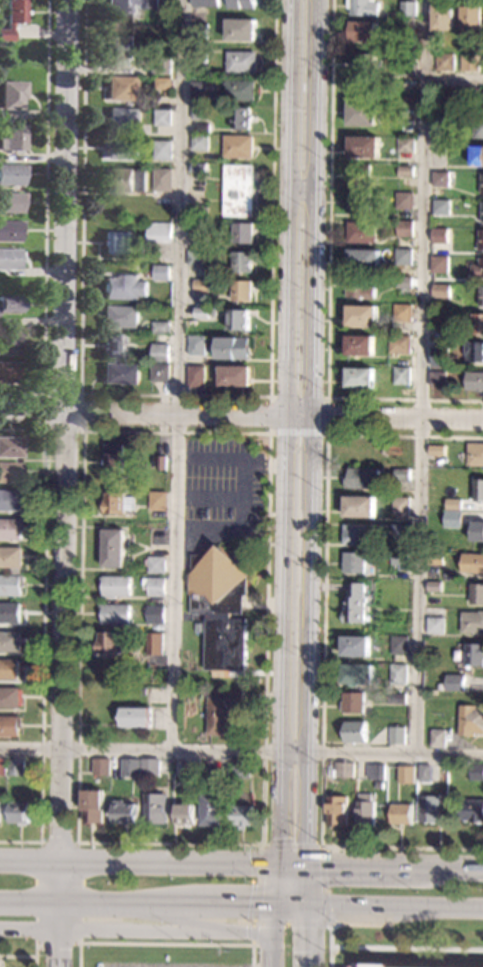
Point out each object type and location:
building: (203, 3)
building: (241, 4)
building: (128, 5)
building: (362, 7)
building: (408, 9)
building: (442, 17)
building: (471, 17)
building: (13, 18)
building: (239, 29)
building: (197, 31)
building: (363, 31)
building: (384, 46)
building: (118, 47)
building: (196, 58)
building: (239, 61)
building: (443, 62)
building: (468, 62)
building: (361, 64)
building: (159, 66)
building: (405, 67)
road: (455, 80)
building: (161, 84)
building: (122, 88)
building: (196, 88)
building: (238, 90)
building: (164, 93)
building: (13, 95)
building: (459, 97)
building: (482, 101)
building: (196, 112)
building: (361, 113)
building: (159, 117)
building: (240, 118)
building: (122, 120)
building: (440, 121)
building: (200, 127)
building: (477, 127)
building: (14, 138)
building: (197, 142)
building: (405, 145)
building: (236, 146)
building: (362, 146)
building: (120, 149)
building: (160, 150)
building: (476, 156)
building: (196, 168)
building: (404, 171)
building: (12, 175)
building: (358, 175)
building: (439, 178)
building: (125, 180)
building: (160, 180)
building: (481, 184)
building: (237, 190)
building: (452, 194)
building: (403, 200)
building: (11, 202)
building: (358, 203)
building: (440, 207)
building: (202, 209)
building: (481, 212)
road: (47, 218)
building: (403, 228)
building: (10, 231)
building: (360, 232)
building: (241, 233)
building: (438, 235)
building: (196, 237)
building: (133, 238)
building: (480, 240)
building: (402, 256)
building: (194, 258)
building: (10, 259)
building: (362, 259)
building: (240, 262)
building: (438, 264)
building: (477, 269)
building: (158, 272)
road: (328, 277)
building: (199, 285)
building: (123, 287)
building: (358, 288)
building: (439, 290)
building: (240, 291)
building: (480, 295)
building: (9, 305)
building: (201, 312)
building: (401, 312)
building: (361, 315)
building: (118, 316)
building: (441, 317)
building: (237, 320)
building: (478, 324)
building: (157, 327)
building: (10, 344)
building: (397, 344)
building: (194, 345)
building: (358, 345)
building: (111, 347)
building: (231, 348)
building: (473, 351)
building: (157, 352)
building: (438, 357)
building: (8, 372)
building: (118, 373)
building: (157, 373)
road: (177, 375)
building: (193, 376)
building: (233, 376)
building: (400, 376)
road: (424, 376)
building: (358, 377)
building: (437, 378)
building: (474, 381)
road: (81, 393)
road: (178, 395)
road: (297, 398)
road: (241, 417)
road: (282, 432)
road: (314, 432)
road: (266, 434)
road: (297, 435)
building: (10, 447)
building: (435, 450)
building: (474, 454)
building: (112, 458)
building: (158, 462)
road: (260, 463)
building: (10, 473)
building: (468, 473)
building: (400, 474)
building: (360, 478)
road: (60, 483)
parking lot: (219, 487)
building: (477, 489)
road: (240, 491)
road: (207, 496)
building: (10, 500)
building: (155, 500)
building: (115, 503)
building: (452, 504)
building: (358, 506)
building: (399, 506)
building: (452, 519)
building: (10, 528)
building: (477, 531)
building: (399, 532)
building: (356, 534)
building: (392, 547)
building: (112, 548)
building: (10, 557)
building: (398, 558)
building: (434, 559)
building: (353, 562)
building: (471, 562)
building: (154, 564)
building: (10, 584)
building: (435, 585)
building: (115, 586)
building: (154, 586)
building: (476, 593)
building: (354, 604)
building: (219, 606)
building: (9, 613)
building: (114, 614)
building: (154, 614)
building: (472, 622)
building: (435, 624)
road: (41, 633)
building: (9, 641)
building: (110, 643)
building: (152, 643)
road: (322, 644)
building: (355, 645)
building: (398, 645)
building: (474, 654)
building: (8, 669)
building: (357, 674)
building: (397, 674)
building: (454, 682)
building: (147, 691)
building: (217, 692)
building: (10, 697)
building: (395, 697)
building: (351, 702)
building: (221, 711)
building: (134, 717)
building: (470, 720)
building: (9, 725)
building: (355, 731)
building: (397, 735)
building: (437, 738)
road: (241, 750)
building: (2, 766)
building: (100, 766)
building: (14, 767)
building: (149, 767)
building: (130, 768)
building: (189, 768)
building: (239, 768)
building: (338, 769)
building: (380, 772)
building: (476, 772)
building: (424, 773)
building: (406, 774)
building: (378, 785)
building: (91, 806)
building: (153, 808)
building: (212, 809)
building: (429, 809)
building: (337, 810)
building: (365, 810)
building: (471, 810)
building: (18, 812)
building: (124, 813)
building: (401, 813)
building: (184, 814)
building: (240, 816)
road: (76, 847)
road: (321, 857)
road: (241, 863)
traffic signals: (275, 865)
traffic signals: (309, 866)
road: (273, 884)
road: (308, 885)
road: (241, 903)
traffic signals: (272, 903)
traffic signals: (308, 905)
road: (172, 916)
road: (135, 930)
road: (252, 934)
road: (271, 934)
road: (309, 935)
road: (164, 944)
road: (330, 946)
road: (406, 948)
road: (35, 949)
road: (22, 956)
parking lot: (163, 964)
building: (382, 965)

